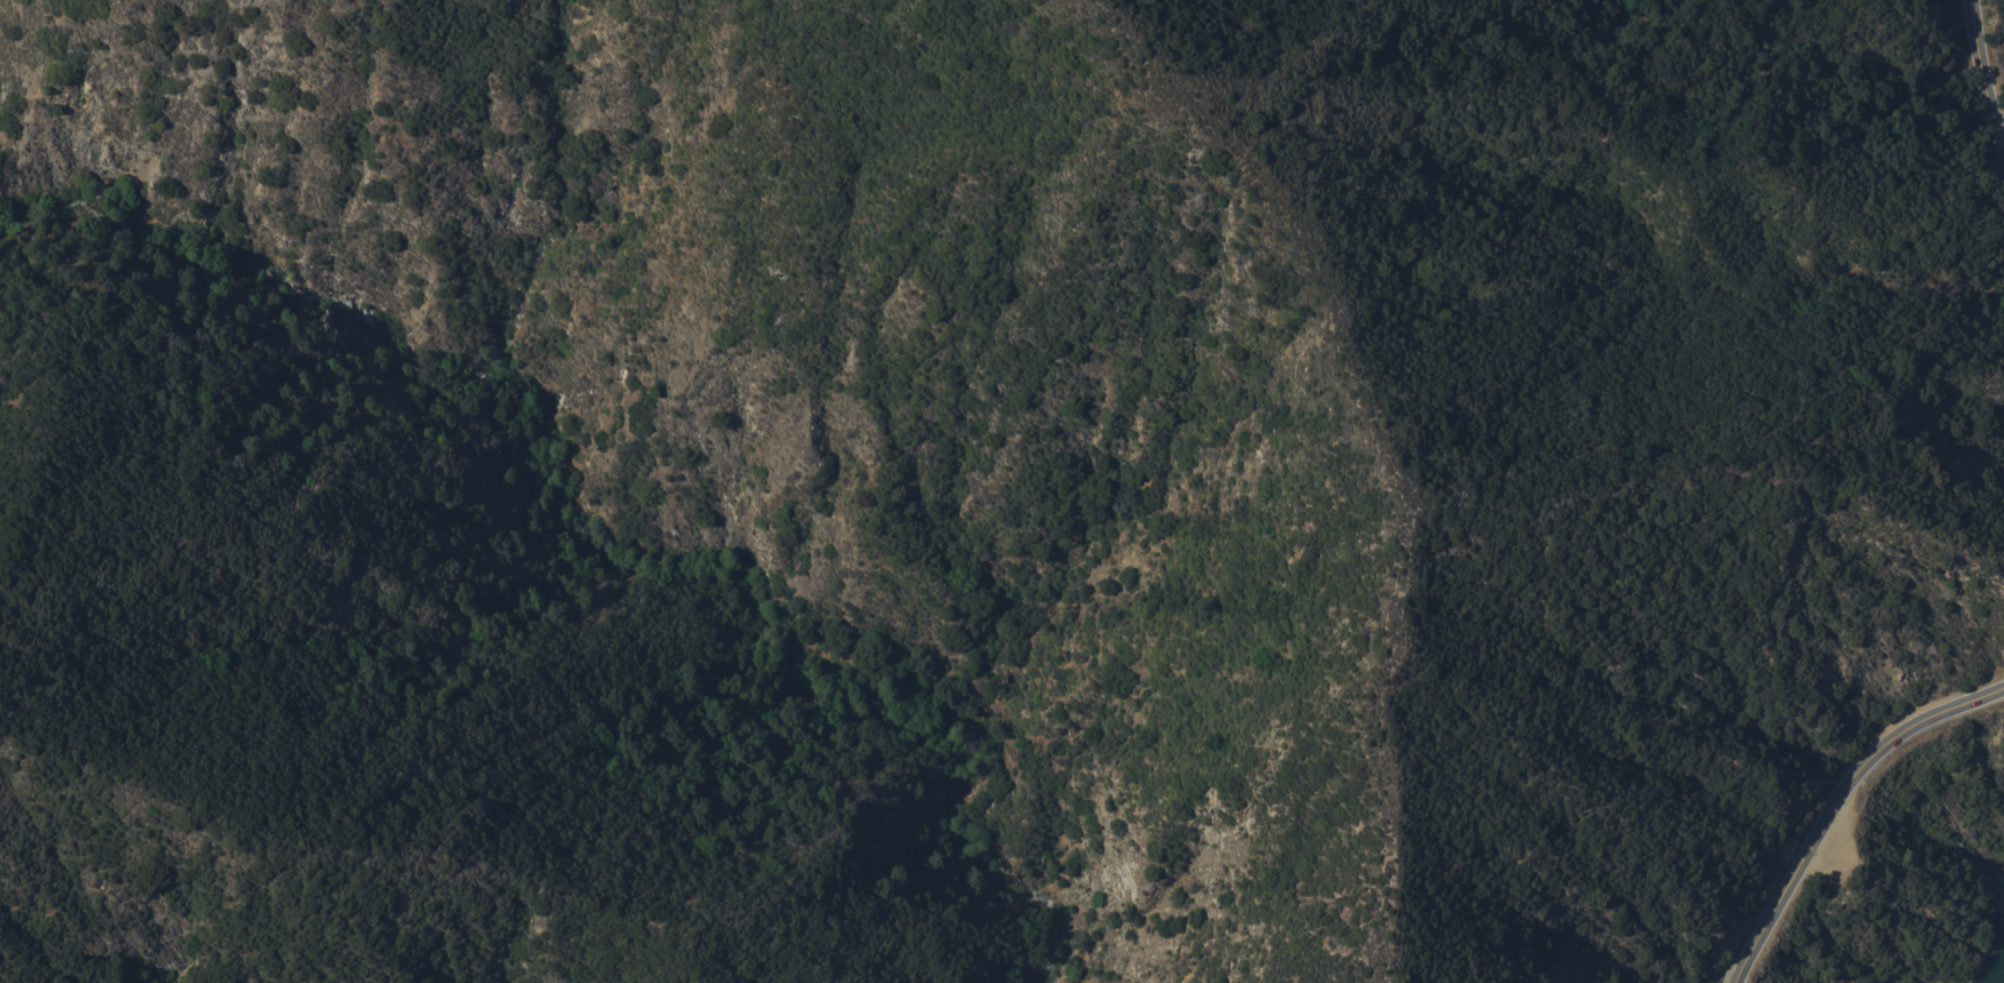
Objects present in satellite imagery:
road: (1985, 71)
road: (1834, 798)
parking lot: (1834, 848)

